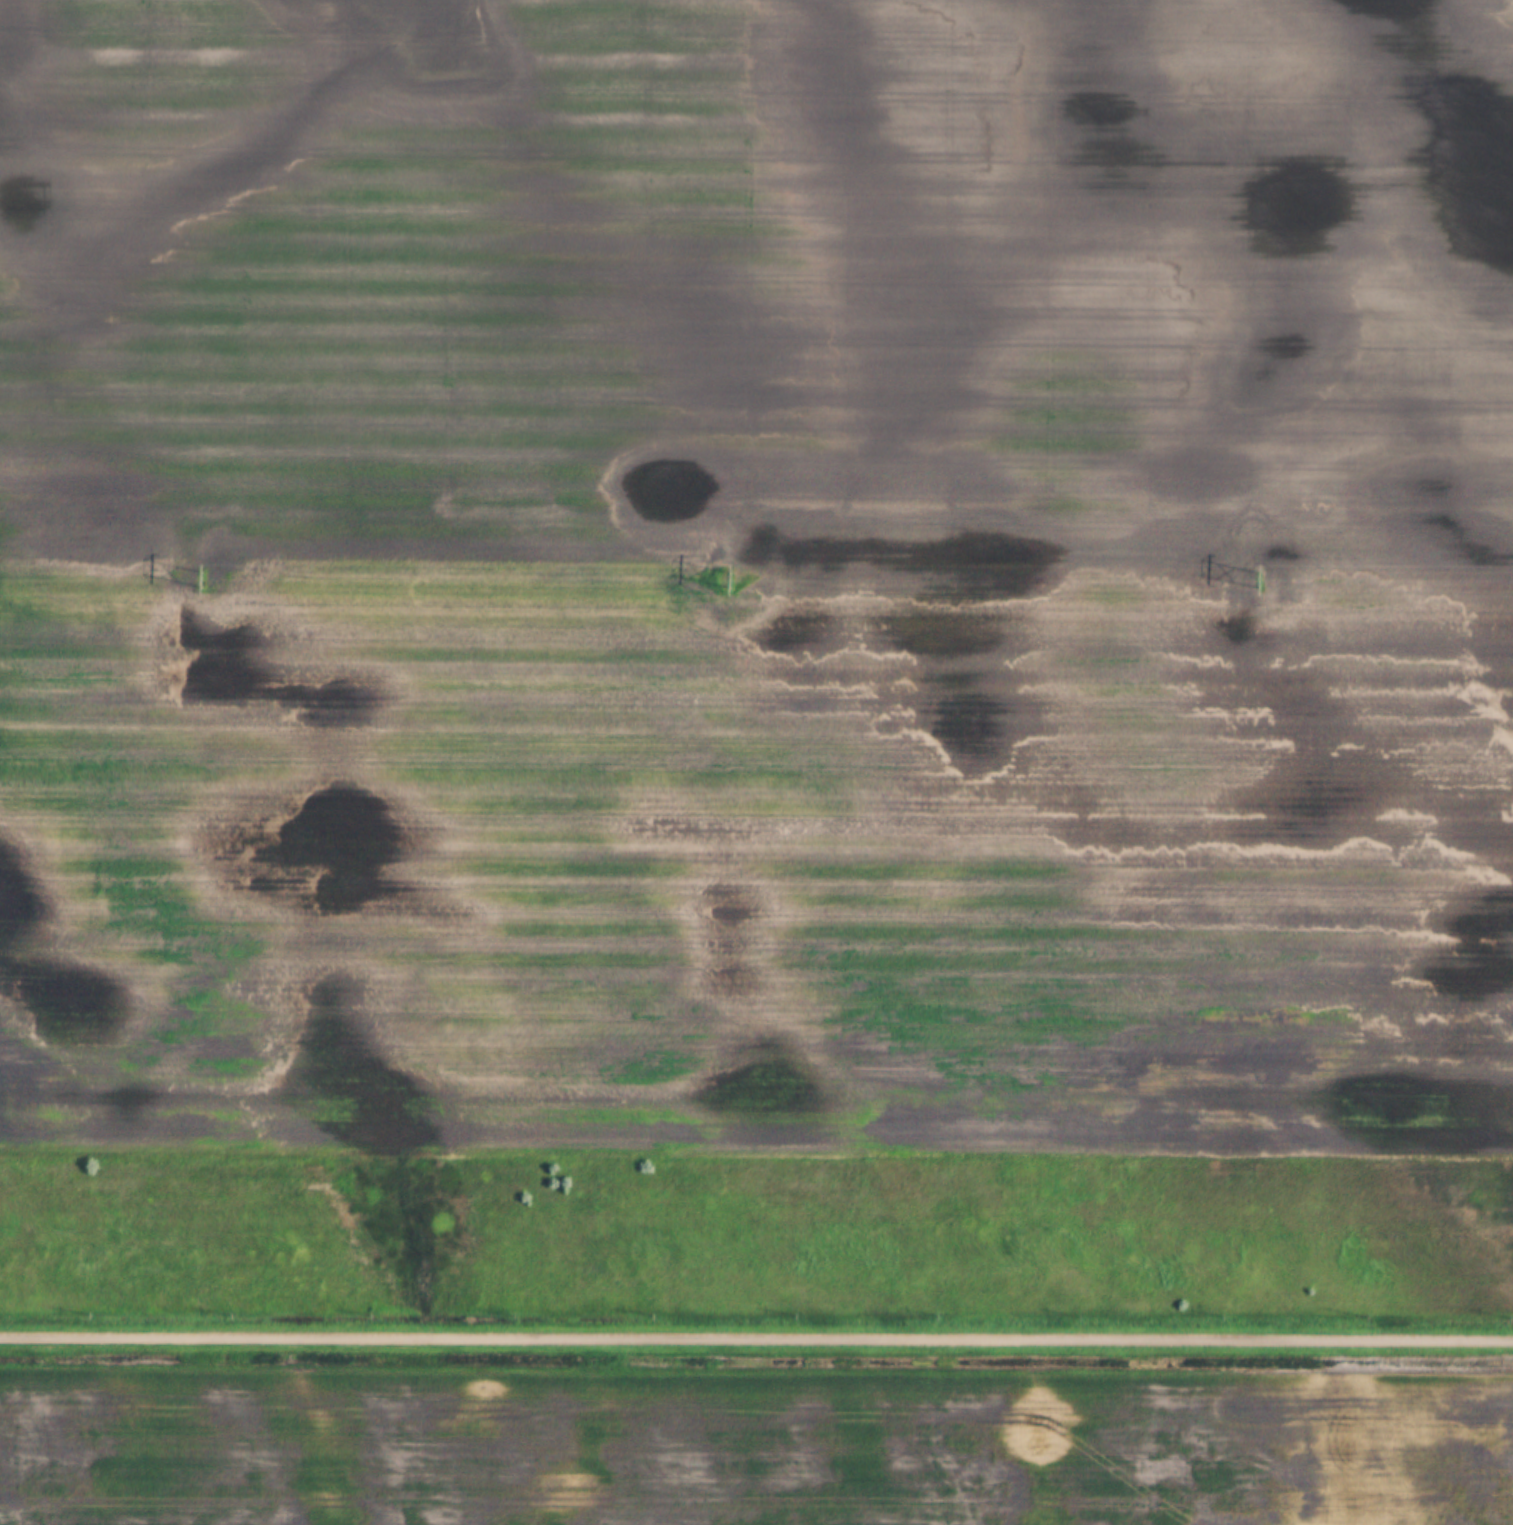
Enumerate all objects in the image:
power tower: (203, 580)
power tower: (730, 582)
power tower: (1269, 582)
crop: (756, 653)
road: (756, 1332)
crop: (751, 1442)

